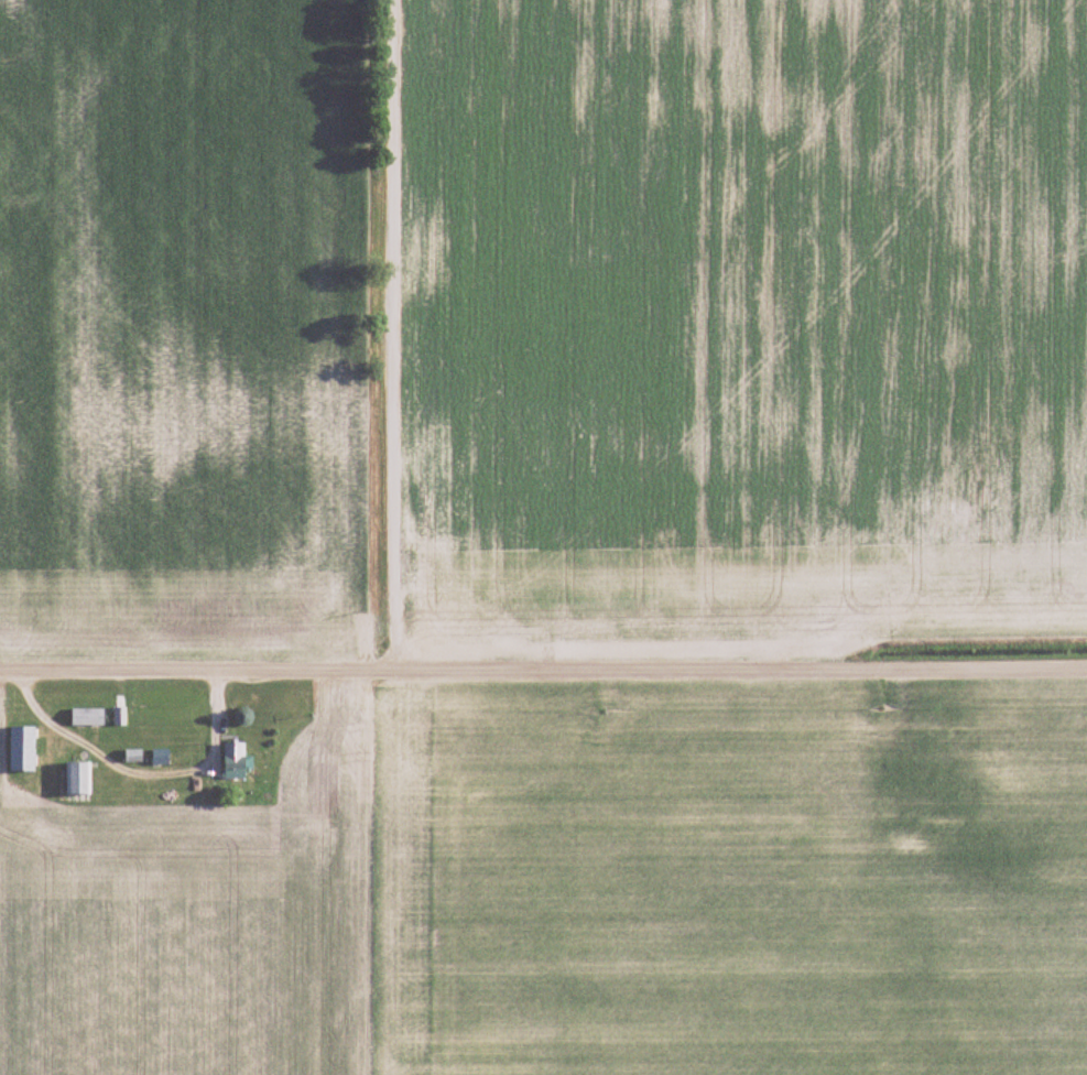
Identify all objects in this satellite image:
road: (384, 336)
road: (543, 671)
building: (87, 718)
building: (22, 750)
building: (160, 758)
building: (235, 761)
building: (78, 779)

